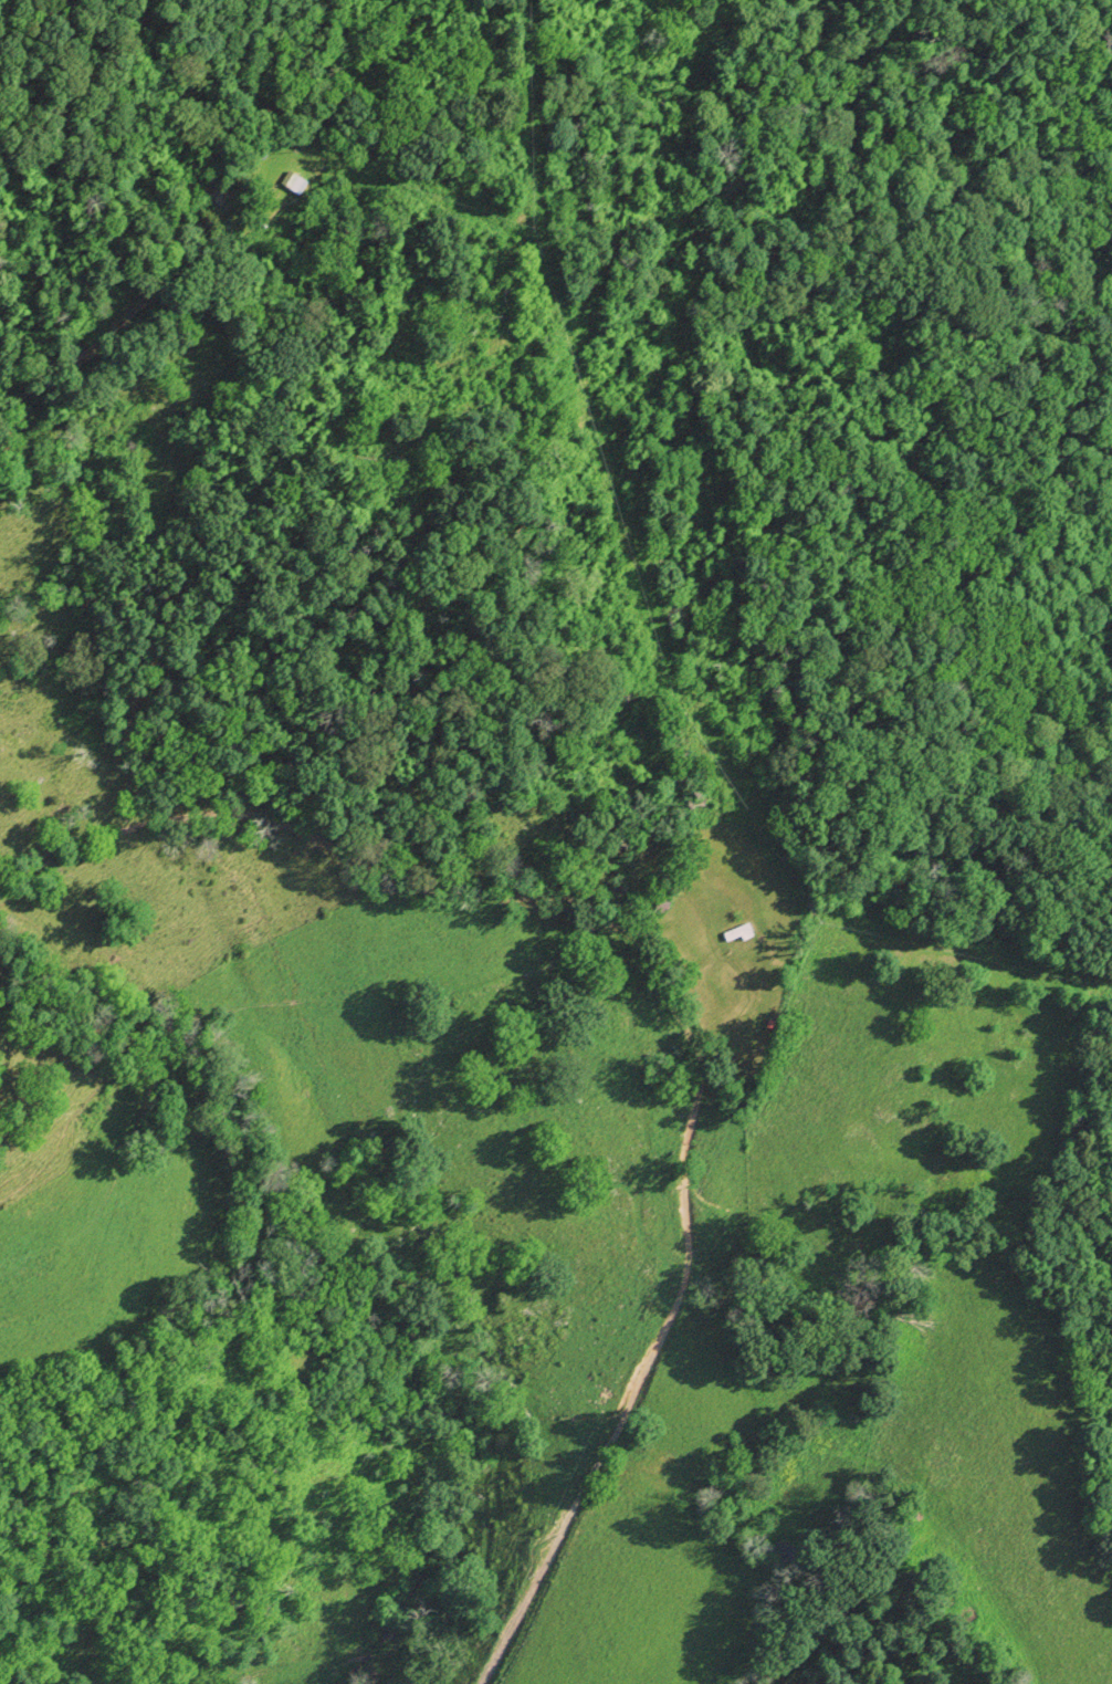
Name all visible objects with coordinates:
building: (292, 180)
building: (218, 192)
road: (166, 262)
road: (670, 1001)

